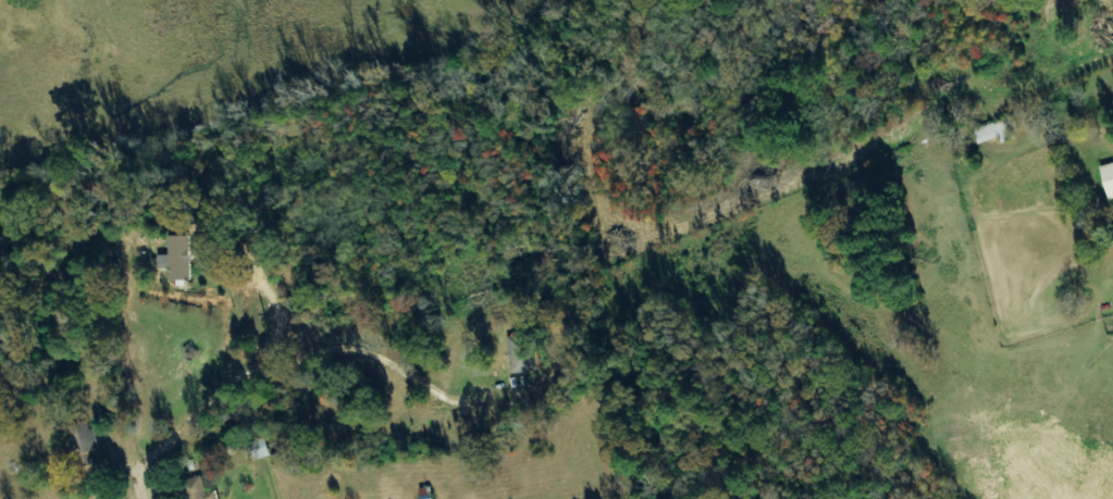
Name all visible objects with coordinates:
building: (1109, 177)
building: (180, 259)
road: (1059, 259)
building: (523, 354)
building: (83, 439)
building: (259, 450)
road: (180, 484)
road: (141, 487)
building: (199, 489)

